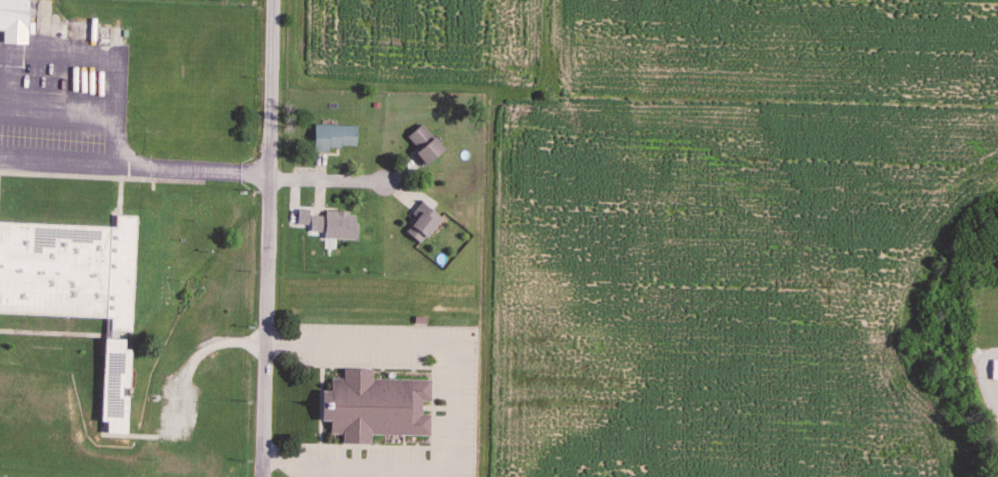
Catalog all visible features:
building: (12, 16)
building: (332, 138)
building: (421, 145)
road: (135, 168)
road: (327, 180)
building: (419, 223)
building: (328, 226)
building: (146, 237)
road: (268, 238)
building: (167, 239)
building: (68, 271)
building: (144, 285)
building: (166, 286)
road: (194, 356)
building: (993, 371)
building: (372, 407)
road: (452, 412)

